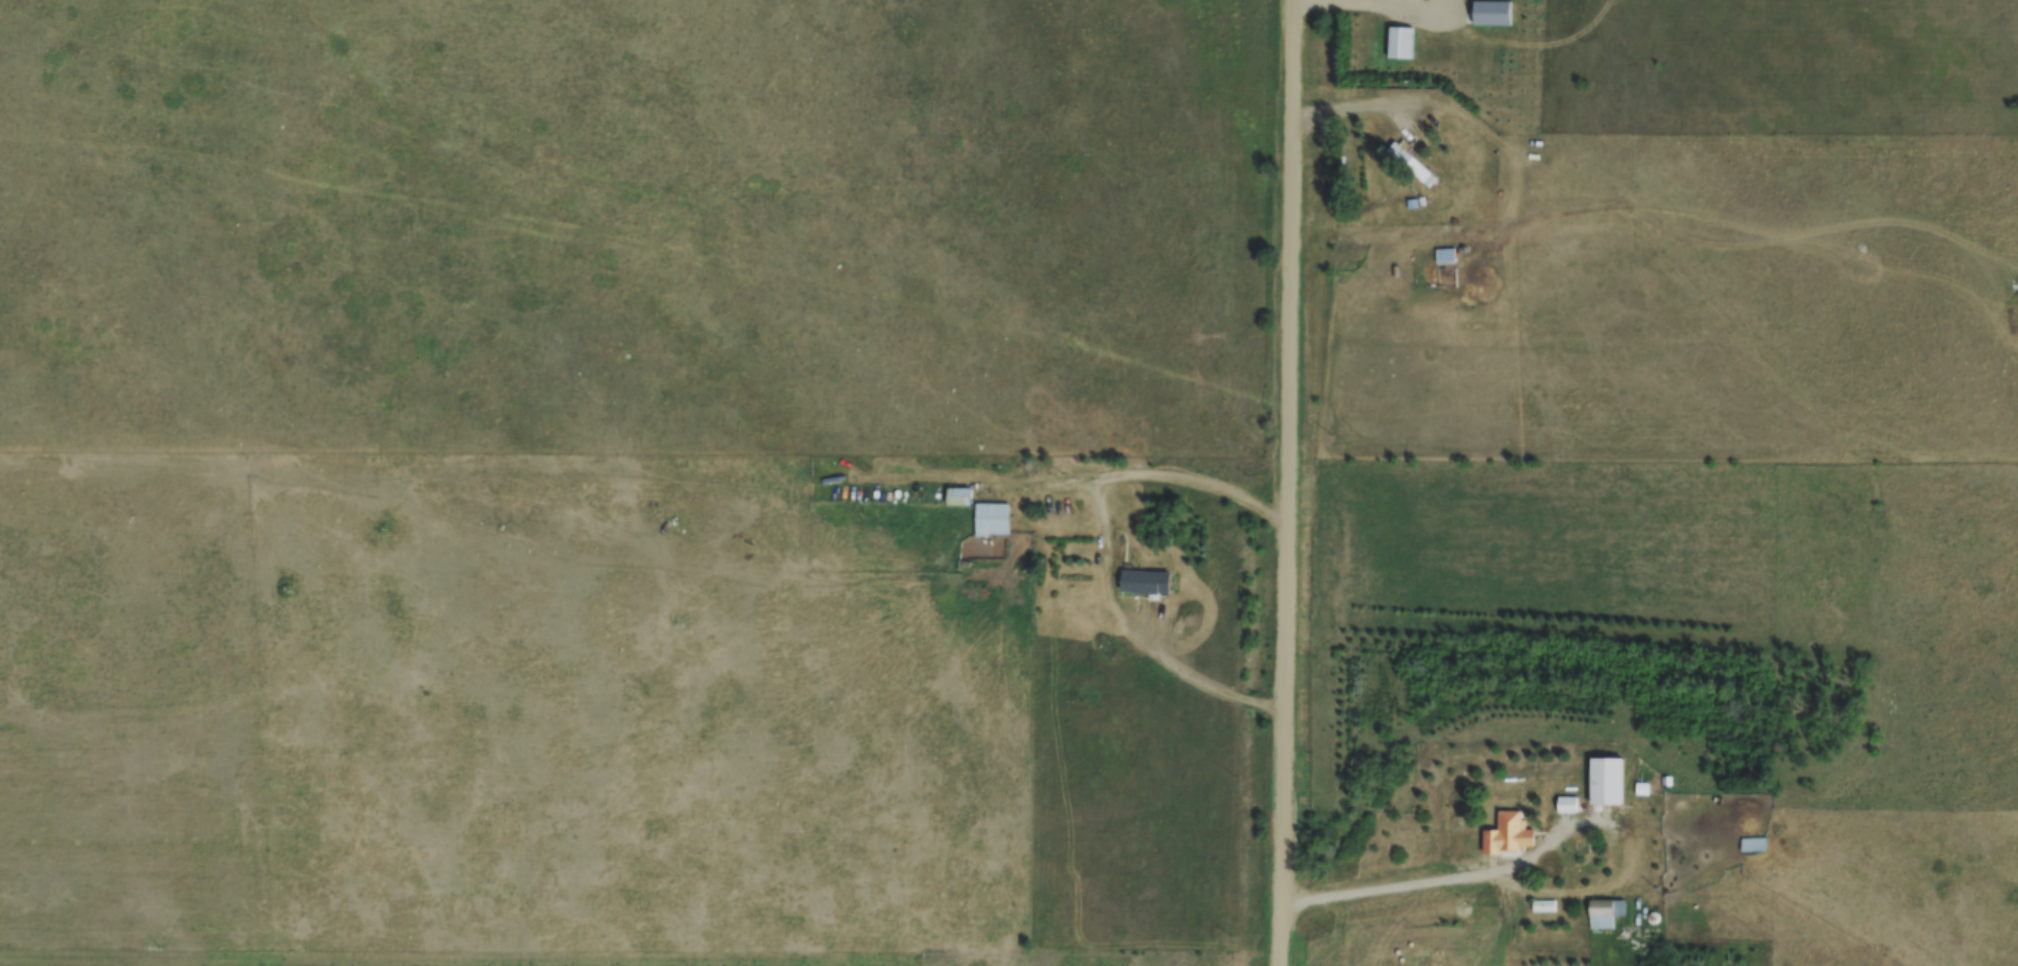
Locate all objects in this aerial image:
building: (1401, 42)
building: (1412, 164)
building: (1446, 255)
road: (1291, 262)
road: (517, 468)
road: (1160, 475)
building: (960, 497)
building: (992, 519)
building: (1146, 583)
road: (1282, 744)
building: (1607, 779)
building: (1511, 826)
building: (1754, 843)
road: (1433, 881)
building: (1606, 910)
building: (1425, 959)

